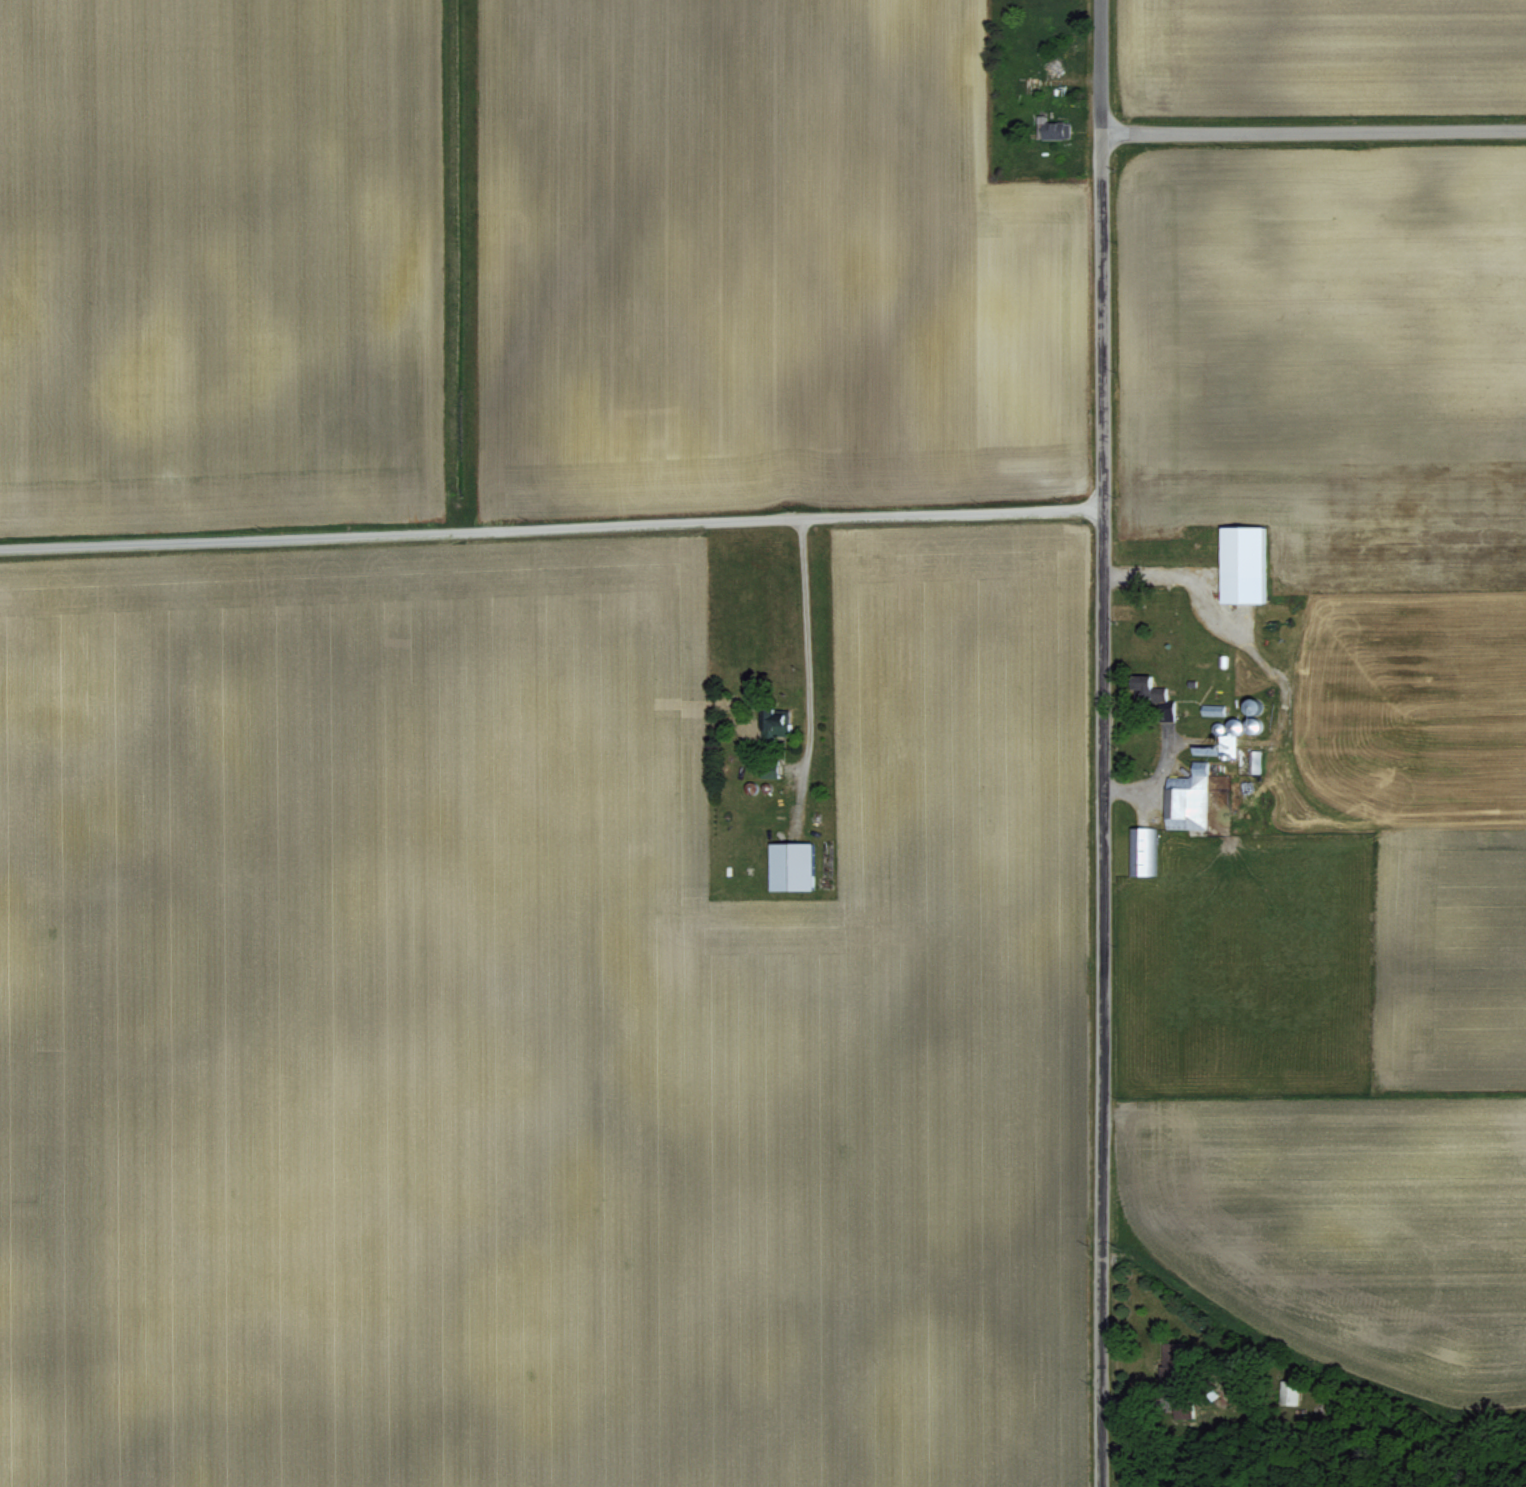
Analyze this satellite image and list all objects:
building: (1053, 129)
road: (1312, 129)
road: (550, 527)
building: (1239, 563)
road: (804, 642)
road: (1100, 743)
building: (1184, 796)
building: (1140, 848)

